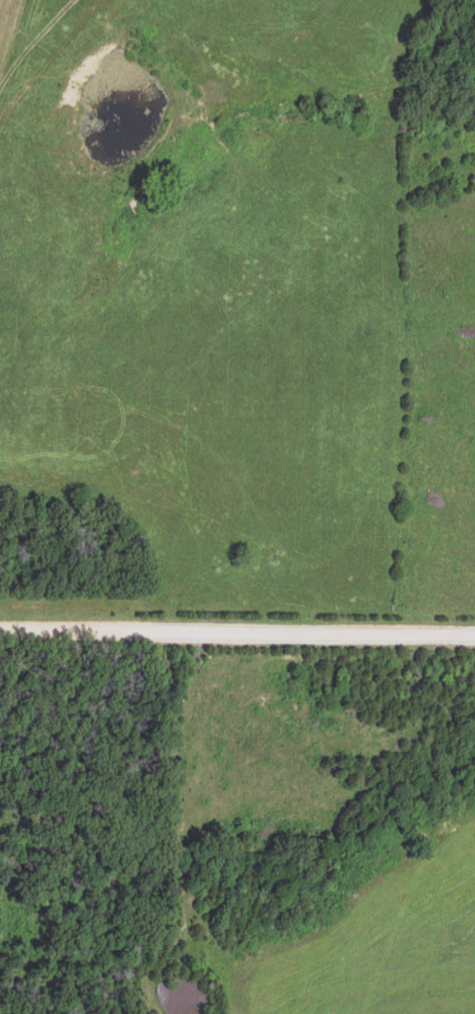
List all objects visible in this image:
road: (237, 631)

